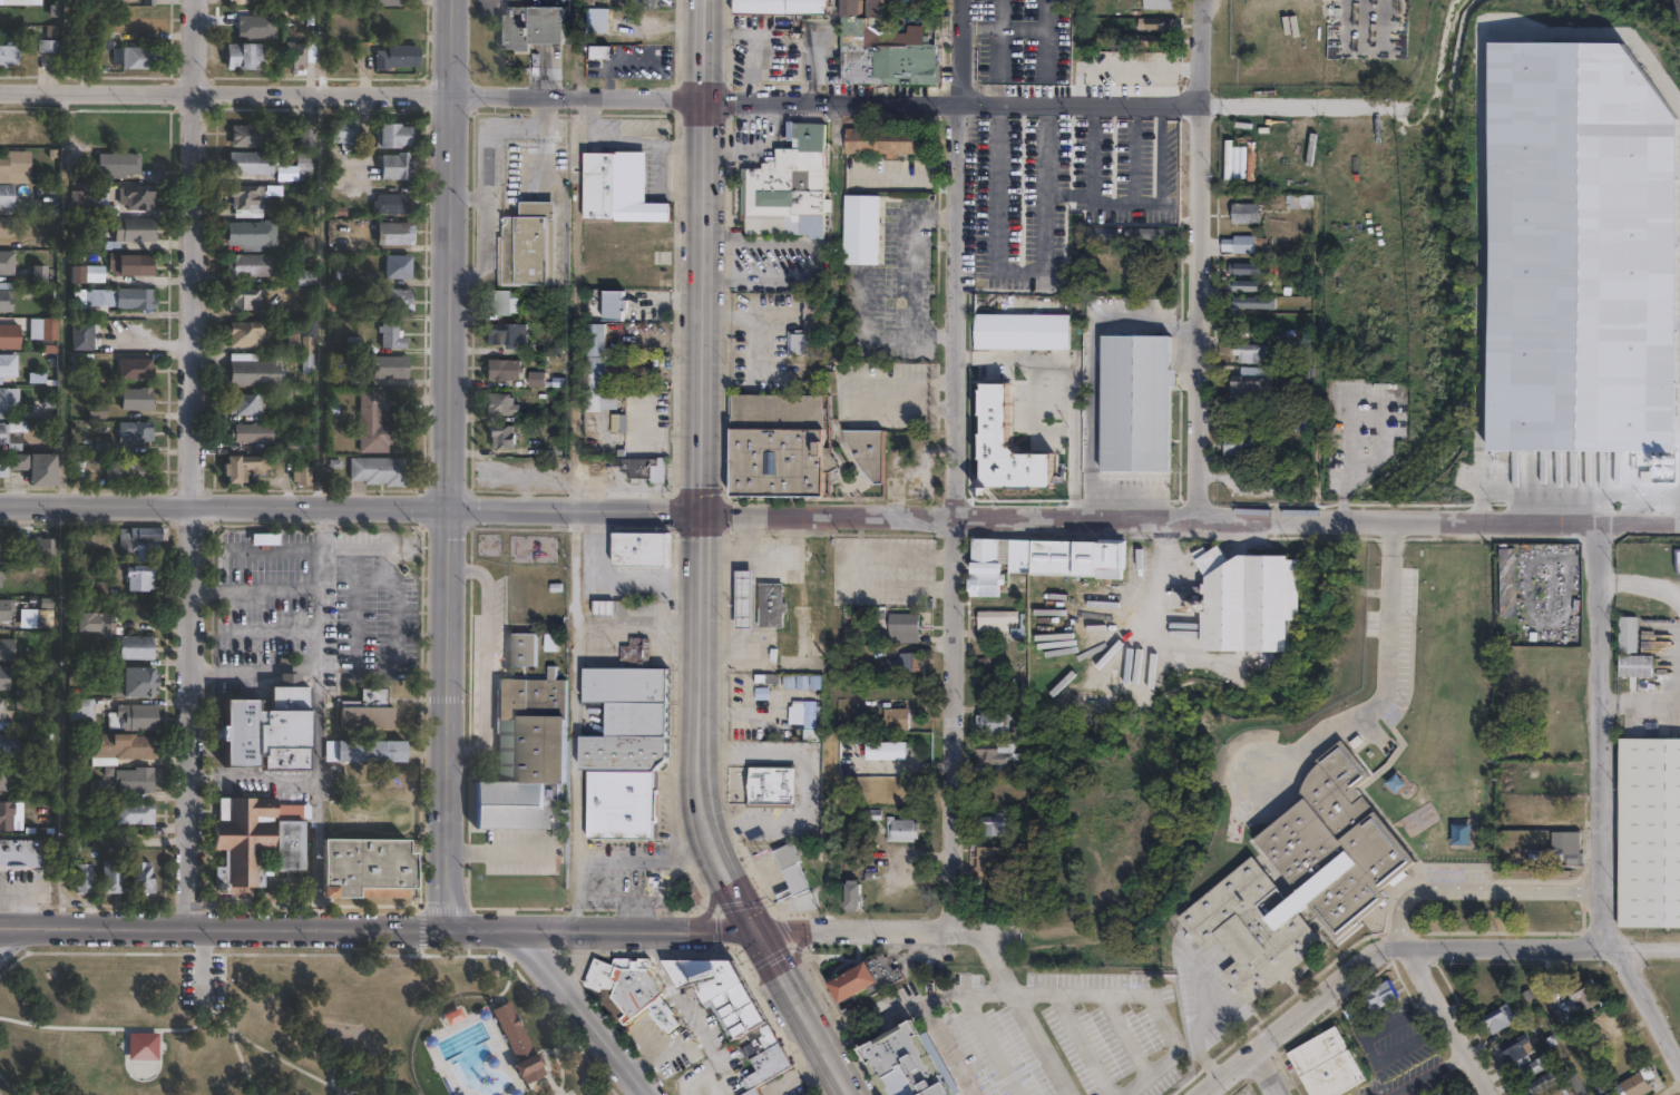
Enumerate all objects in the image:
building: (137, 0)
building: (17, 2)
building: (148, 2)
building: (244, 2)
building: (391, 2)
building: (918, 2)
building: (1152, 4)
railway: (1678, 4)
building: (779, 6)
road: (1004, 13)
road: (1048, 13)
building: (599, 19)
building: (1158, 23)
building: (531, 26)
road: (1003, 27)
parking lot: (1020, 39)
building: (1159, 40)
building: (48, 41)
building: (881, 43)
road: (748, 45)
road: (813, 45)
road: (999, 50)
building: (599, 51)
road: (1047, 51)
building: (8, 56)
building: (295, 56)
building: (1156, 56)
building: (238, 57)
building: (393, 57)
building: (140, 58)
road: (353, 90)
road: (1061, 100)
building: (342, 130)
building: (247, 135)
building: (305, 135)
building: (390, 135)
building: (883, 138)
road: (1160, 154)
road: (547, 155)
building: (245, 163)
building: (116, 164)
building: (8, 166)
building: (303, 166)
building: (393, 166)
parking lot: (887, 173)
road: (1093, 173)
road: (485, 174)
road: (1134, 177)
building: (788, 186)
building: (619, 187)
parking lot: (1054, 187)
building: (244, 196)
building: (3, 197)
building: (135, 197)
road: (467, 197)
building: (1298, 201)
building: (388, 204)
road: (1146, 204)
building: (80, 205)
building: (335, 208)
building: (1246, 213)
building: (860, 227)
building: (1, 228)
building: (131, 229)
building: (1105, 233)
building: (248, 234)
building: (391, 234)
building: (1151, 234)
building: (91, 242)
building: (1242, 243)
building: (529, 245)
building: (1580, 251)
road: (450, 255)
road: (704, 257)
road: (817, 260)
road: (1199, 260)
building: (4, 264)
building: (127, 264)
building: (245, 266)
building: (394, 267)
building: (1248, 267)
building: (81, 270)
building: (36, 274)
road: (1018, 274)
building: (302, 277)
building: (1240, 282)
building: (1160, 285)
parking lot: (893, 286)
building: (133, 299)
building: (241, 300)
building: (389, 300)
building: (497, 302)
building: (3, 303)
building: (1244, 303)
building: (607, 305)
building: (330, 307)
road: (914, 312)
building: (1233, 320)
building: (804, 326)
building: (1020, 329)
building: (40, 331)
building: (243, 333)
building: (506, 334)
road: (935, 334)
building: (1272, 334)
building: (78, 336)
building: (388, 336)
building: (2, 338)
building: (304, 345)
building: (1248, 353)
building: (595, 356)
building: (7, 363)
building: (71, 364)
road: (1090, 365)
building: (387, 368)
building: (133, 369)
building: (504, 370)
building: (1283, 371)
building: (252, 373)
building: (1242, 382)
road: (1071, 385)
parking lot: (888, 394)
building: (135, 399)
building: (592, 402)
building: (6, 403)
building: (1133, 403)
building: (243, 404)
building: (500, 404)
building: (1293, 409)
building: (94, 411)
road: (1031, 414)
building: (1240, 419)
building: (370, 422)
building: (619, 423)
building: (1270, 429)
building: (131, 432)
building: (248, 432)
building: (501, 436)
building: (8, 437)
building: (779, 442)
building: (100, 444)
building: (287, 444)
building: (1005, 444)
building: (1239, 446)
building: (866, 449)
building: (628, 454)
building: (10, 465)
road: (191, 465)
road: (954, 465)
building: (243, 467)
building: (641, 467)
building: (38, 470)
building: (126, 471)
building: (375, 471)
building: (299, 477)
road: (1122, 489)
road: (223, 507)
road: (574, 511)
traffic signals: (701, 515)
road: (1190, 520)
building: (262, 537)
building: (1, 541)
building: (139, 541)
building: (40, 548)
building: (643, 550)
building: (1038, 558)
road: (575, 567)
building: (0, 571)
road: (1158, 573)
building: (138, 578)
road: (615, 578)
building: (742, 599)
gas station: (742, 599)
building: (1248, 603)
building: (772, 604)
building: (611, 608)
building: (3, 612)
building: (36, 618)
building: (1002, 622)
building: (94, 623)
road: (637, 623)
building: (902, 627)
building: (550, 642)
building: (521, 646)
building: (133, 647)
building: (6, 651)
building: (633, 653)
road: (482, 662)
building: (897, 662)
building: (1633, 664)
road: (252, 666)
road: (700, 669)
building: (4, 678)
building: (764, 678)
building: (140, 681)
building: (802, 681)
road: (1381, 682)
building: (79, 710)
building: (365, 710)
building: (6, 711)
building: (808, 714)
building: (131, 717)
building: (631, 717)
building: (896, 718)
road: (315, 720)
road: (447, 720)
building: (990, 722)
building: (265, 727)
building: (11, 745)
building: (45, 746)
building: (125, 746)
building: (369, 750)
building: (885, 753)
building: (75, 755)
building: (525, 756)
building: (988, 759)
road: (574, 776)
building: (134, 780)
building: (3, 782)
building: (765, 782)
building: (95, 790)
building: (623, 803)
road: (1601, 803)
building: (1545, 804)
building: (133, 813)
building: (4, 815)
building: (989, 824)
building: (901, 830)
building: (1649, 833)
building: (286, 834)
building: (241, 839)
road: (710, 839)
building: (20, 850)
road: (496, 851)
building: (1559, 852)
building: (612, 853)
road: (644, 861)
building: (987, 861)
building: (368, 866)
building: (1014, 867)
building: (789, 869)
building: (1301, 874)
building: (82, 878)
building: (143, 878)
building: (113, 879)
road: (735, 892)
road: (1478, 894)
building: (852, 897)
building: (990, 897)
road: (619, 901)
road: (713, 903)
road: (378, 930)
road: (886, 931)
traffic signals: (756, 932)
road: (12, 938)
road: (1400, 947)
road: (1510, 947)
road: (1645, 947)
road: (795, 958)
road: (773, 959)
building: (590, 965)
road: (995, 965)
road: (203, 967)
building: (865, 979)
parking lot: (202, 981)
building: (637, 993)
building: (1584, 993)
road: (1143, 994)
building: (1378, 994)
building: (732, 1008)
building: (880, 1008)
road: (922, 1009)
road: (584, 1013)
road: (1290, 1015)
building: (1500, 1017)
road: (808, 1019)
road: (1452, 1020)
park: (282, 1024)
building: (1604, 1027)
building: (511, 1030)
road: (1042, 1044)
building: (141, 1045)
building: (1517, 1048)
water park: (472, 1050)
building: (1327, 1063)
building: (1535, 1065)
building: (910, 1066)
building: (528, 1067)
road: (1270, 1069)
road: (1420, 1070)
road: (838, 1073)
building: (1545, 1079)
building: (1637, 1083)
building: (1560, 1092)
building: (755, 1093)
building: (1436, 1093)
building: (810, 1094)

